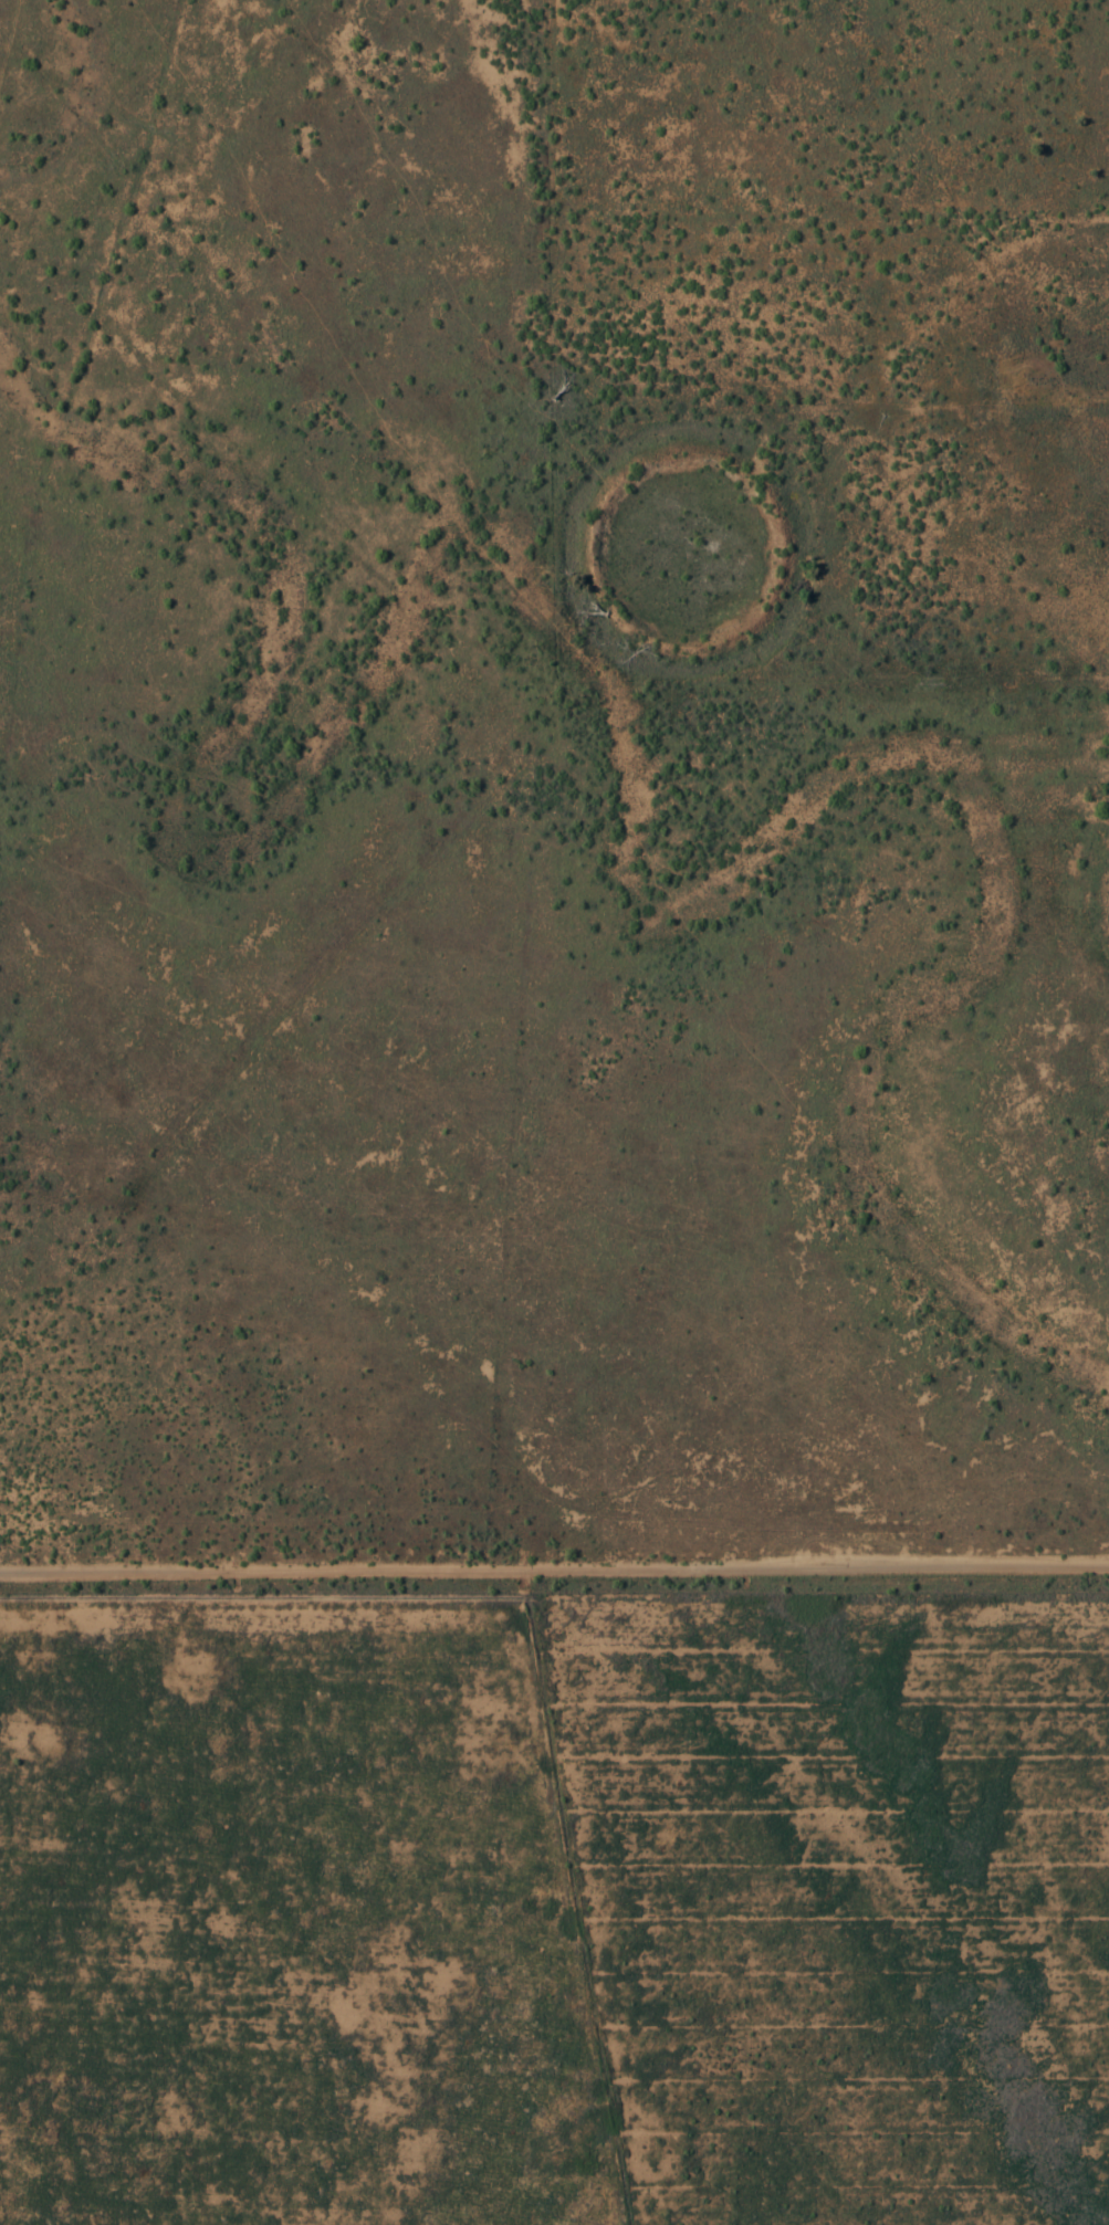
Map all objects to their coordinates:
road: (987, 422)
road: (554, 1571)

